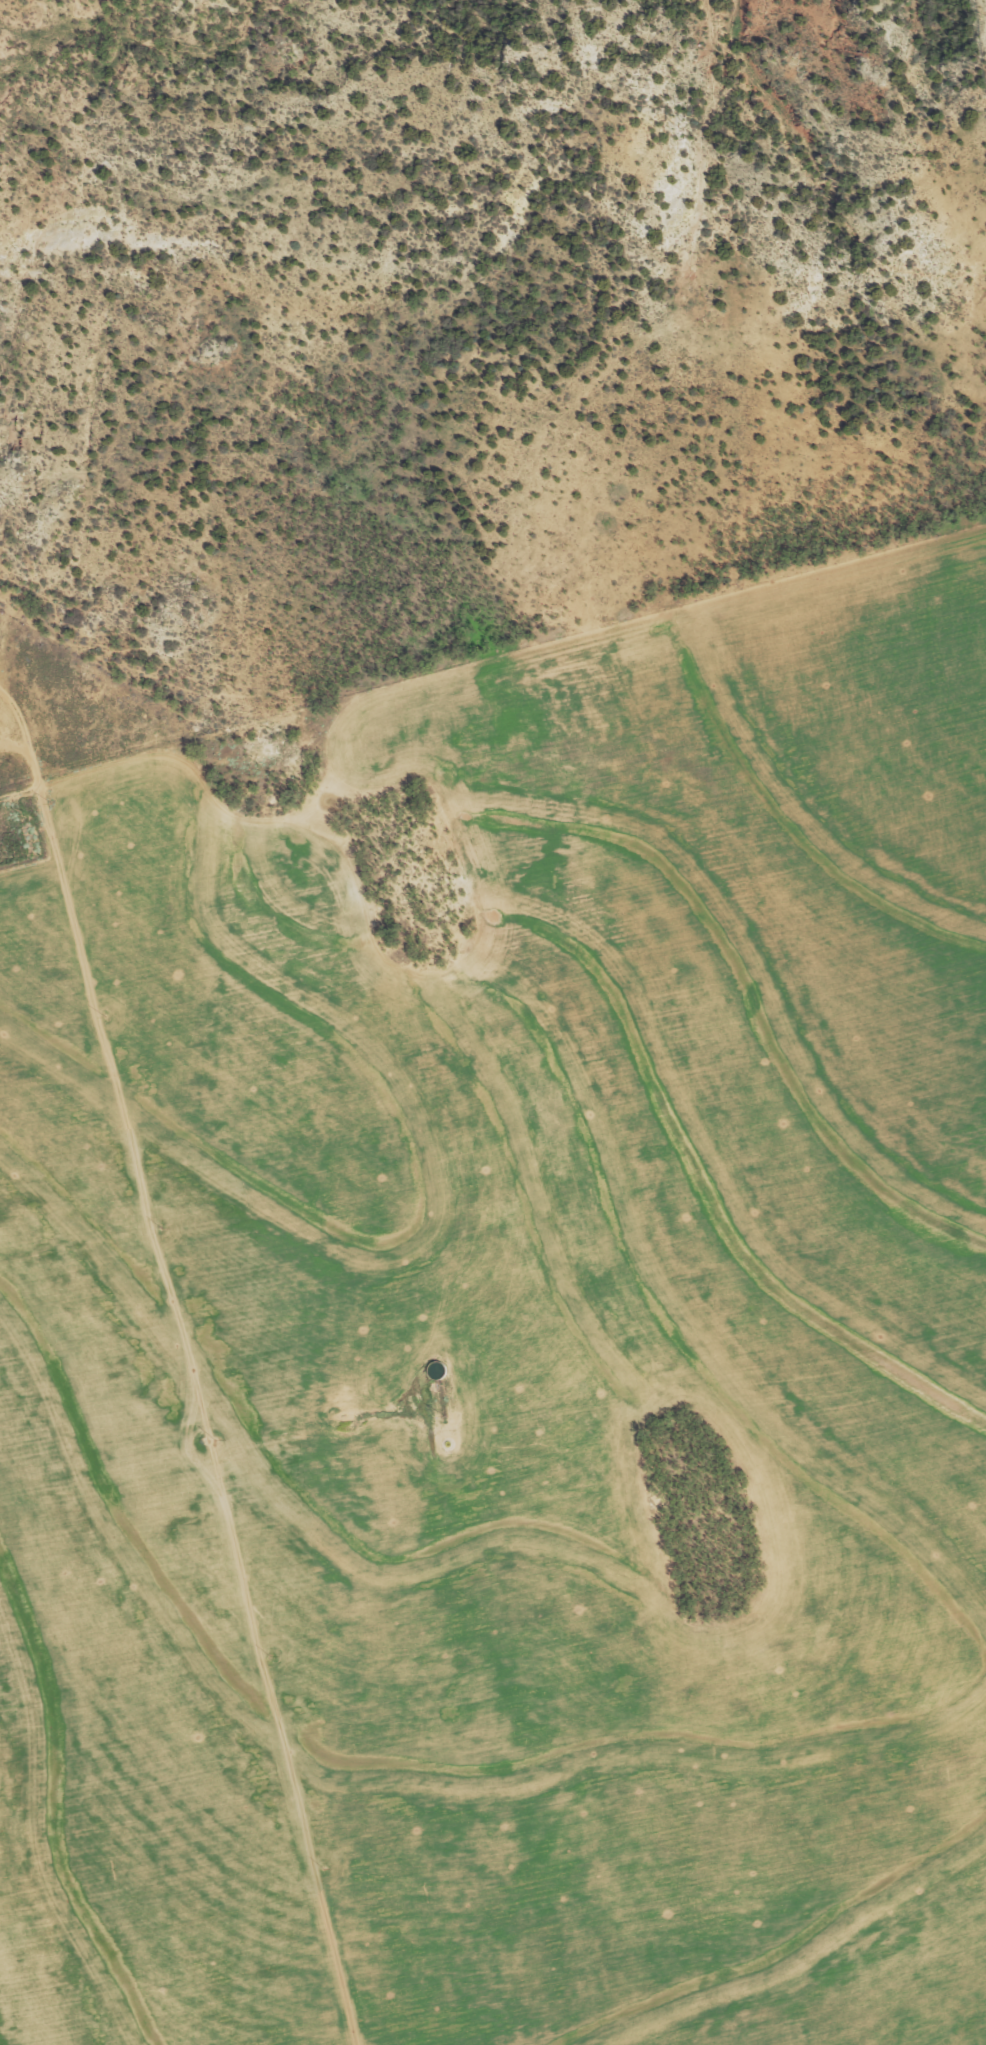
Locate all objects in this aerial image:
road: (459, 687)

